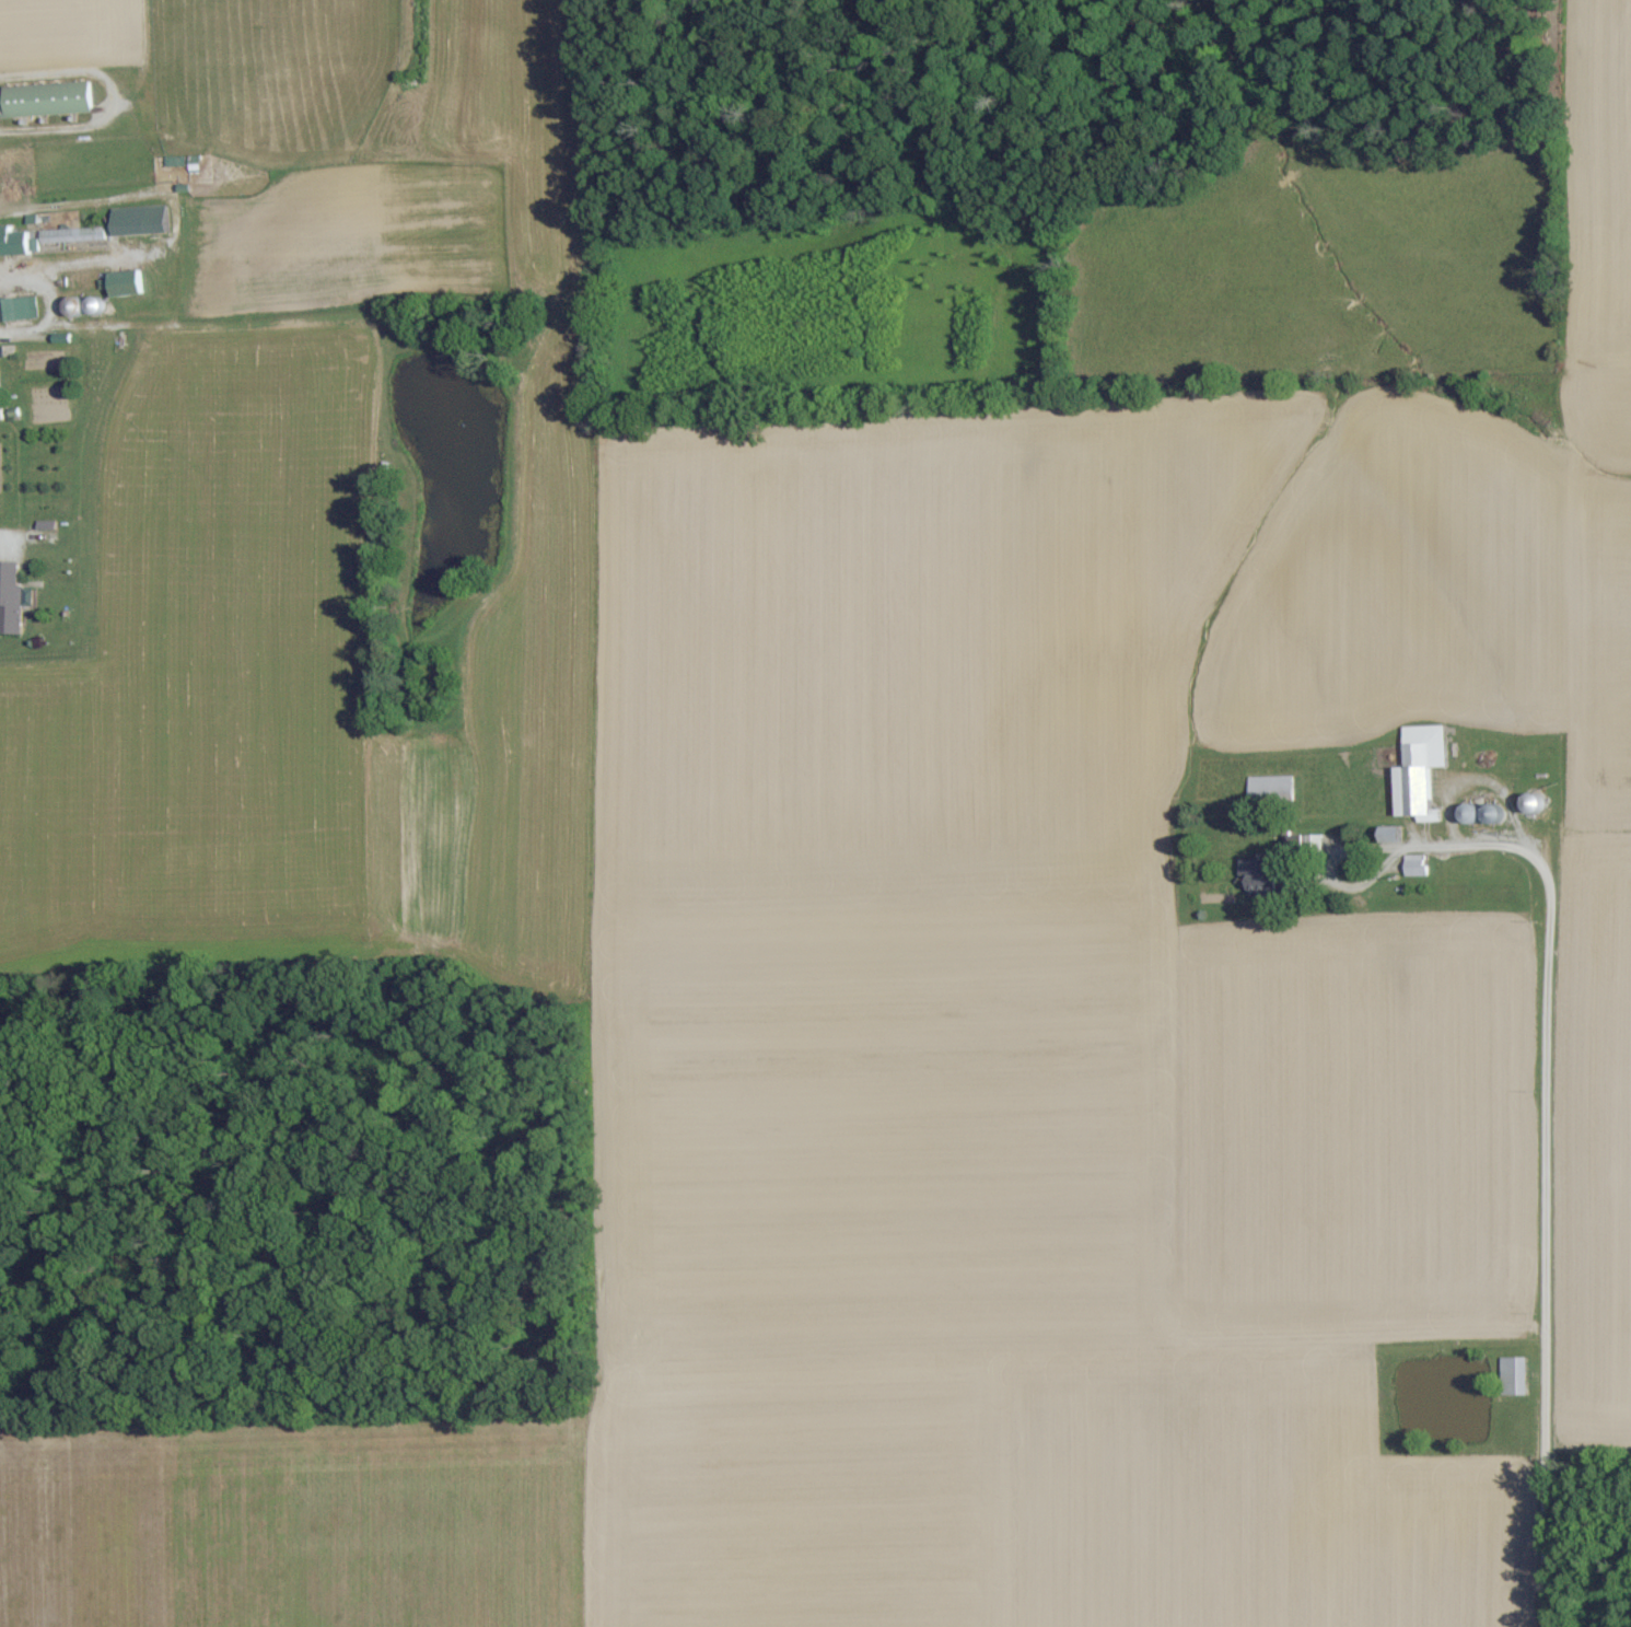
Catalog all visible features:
building: (44, 100)
building: (137, 222)
building: (69, 235)
building: (14, 243)
building: (123, 284)
building: (15, 310)
building: (43, 526)
road: (15, 544)
building: (11, 601)
building: (1418, 772)
building: (1268, 790)
building: (1388, 836)
building: (1412, 867)
building: (1257, 879)
road: (1547, 1148)
building: (1511, 1376)

